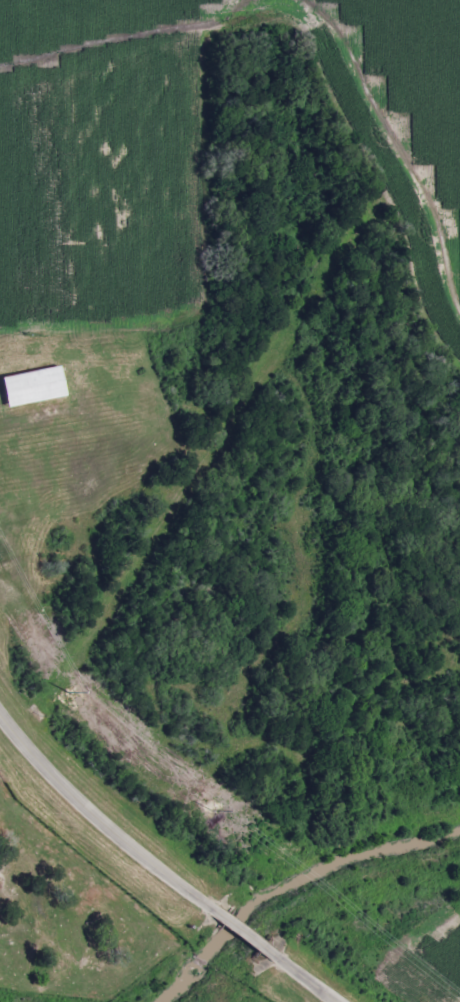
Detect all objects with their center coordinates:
road: (99, 811)
river: (292, 885)
road: (248, 929)
road: (313, 978)

